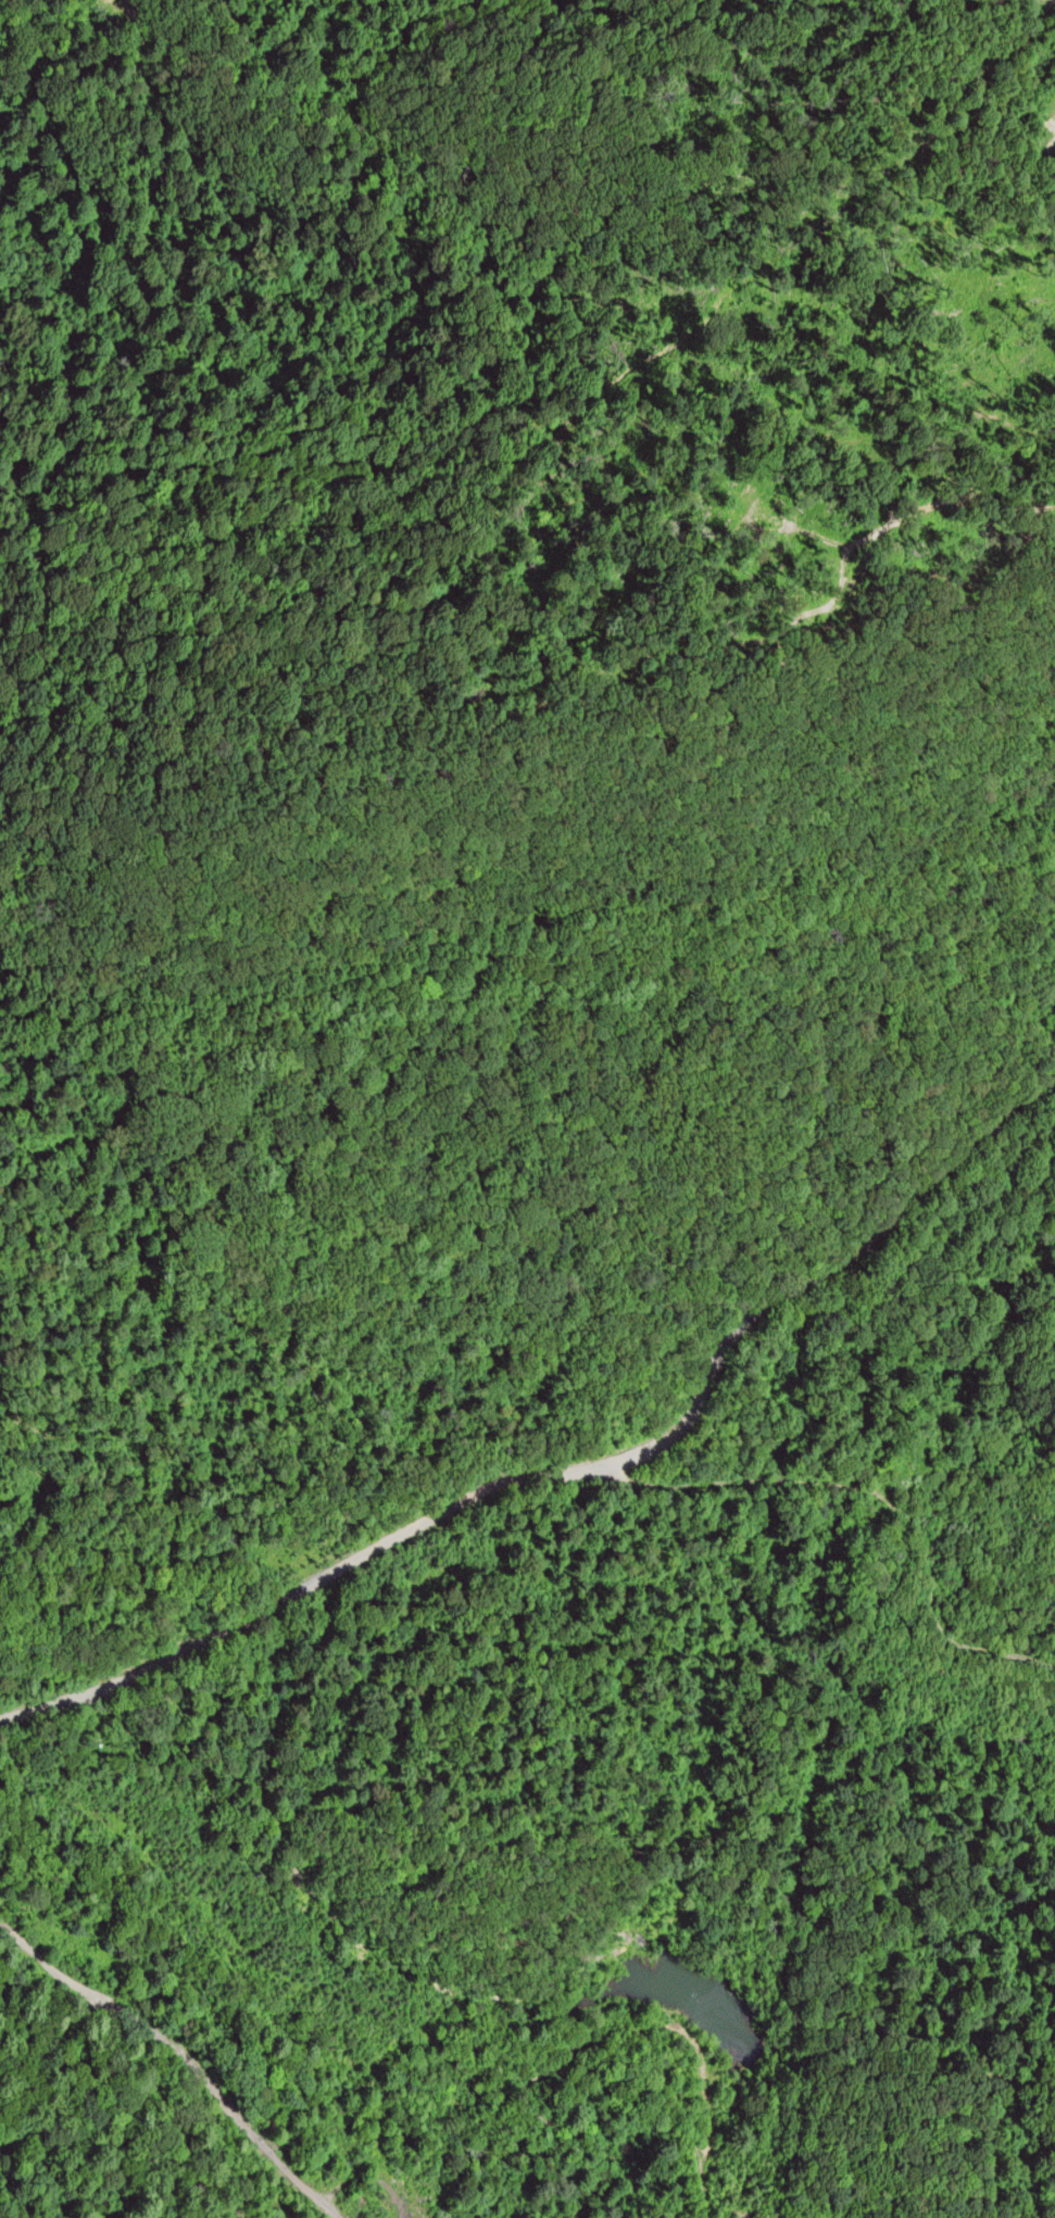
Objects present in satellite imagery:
road: (573, 1469)
road: (174, 2059)

